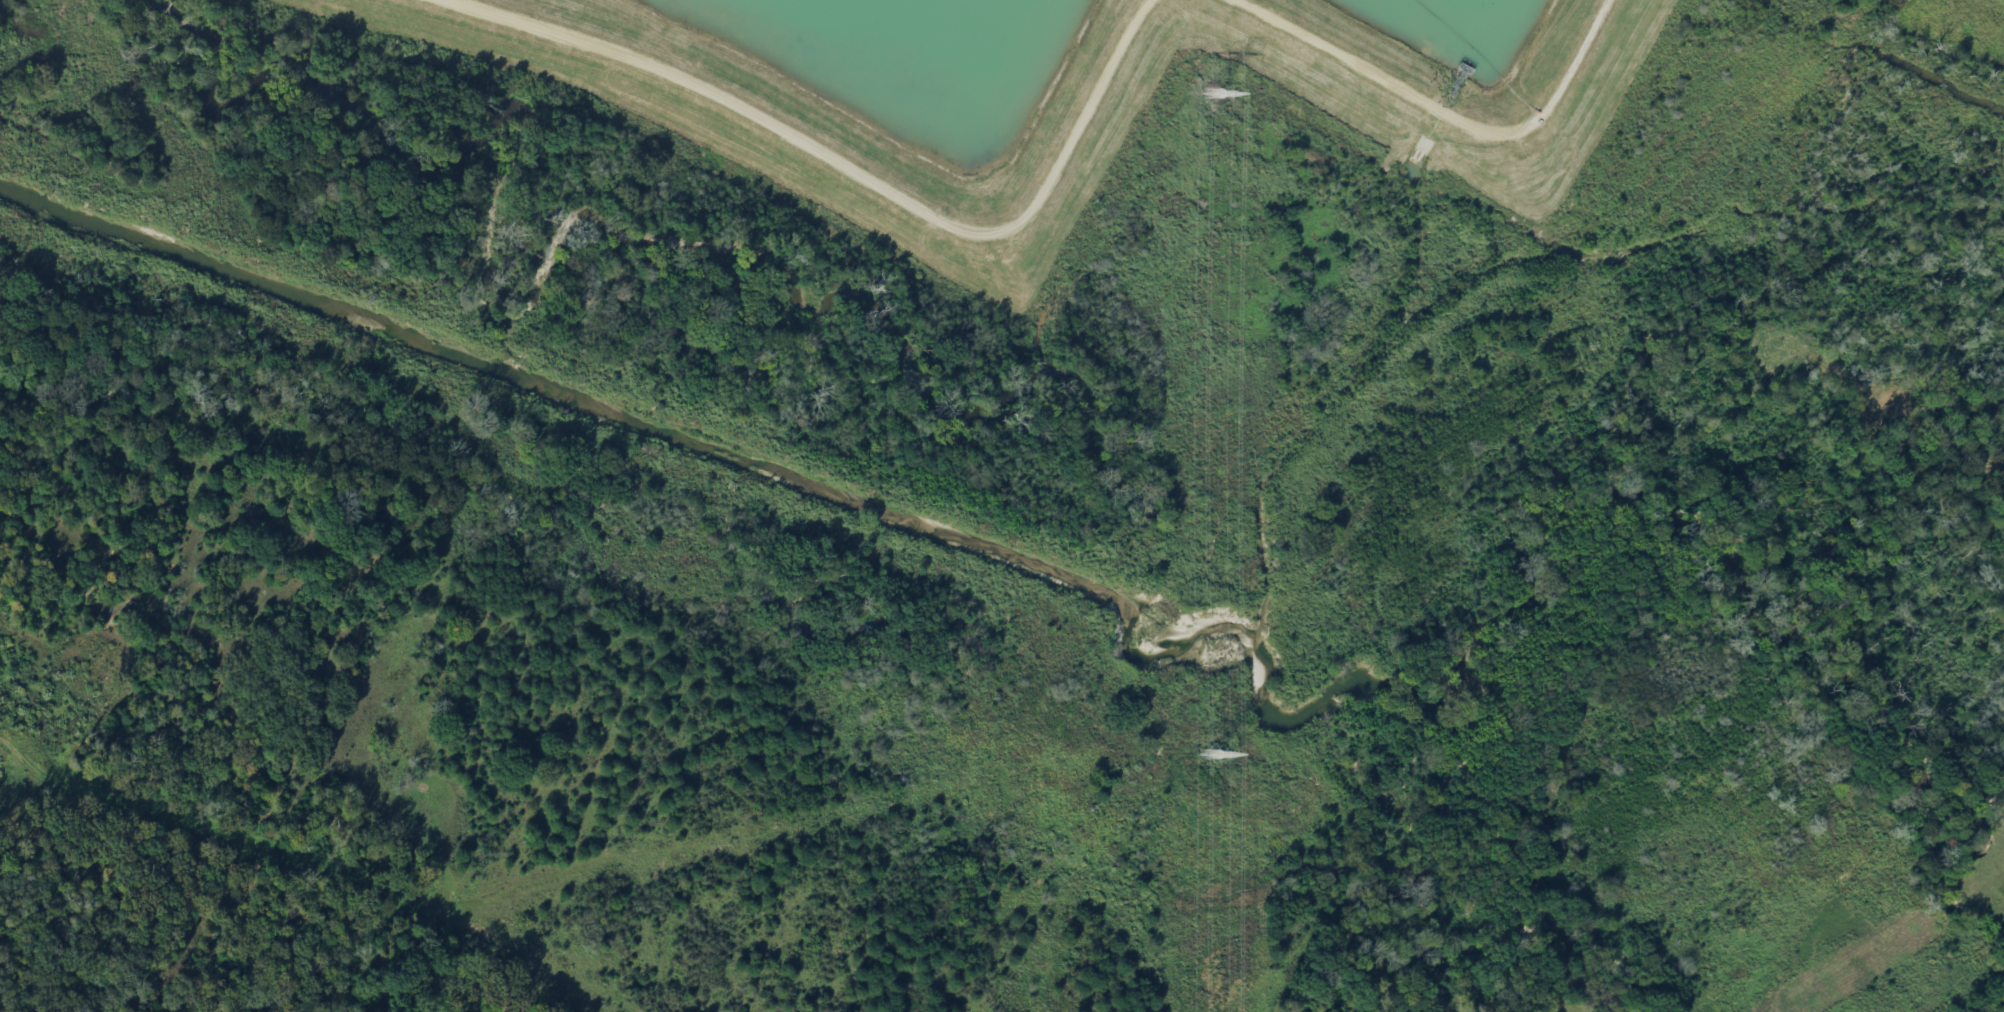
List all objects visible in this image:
quarry: (863, 47)
power tower: (1213, 94)
power tower: (1214, 756)

